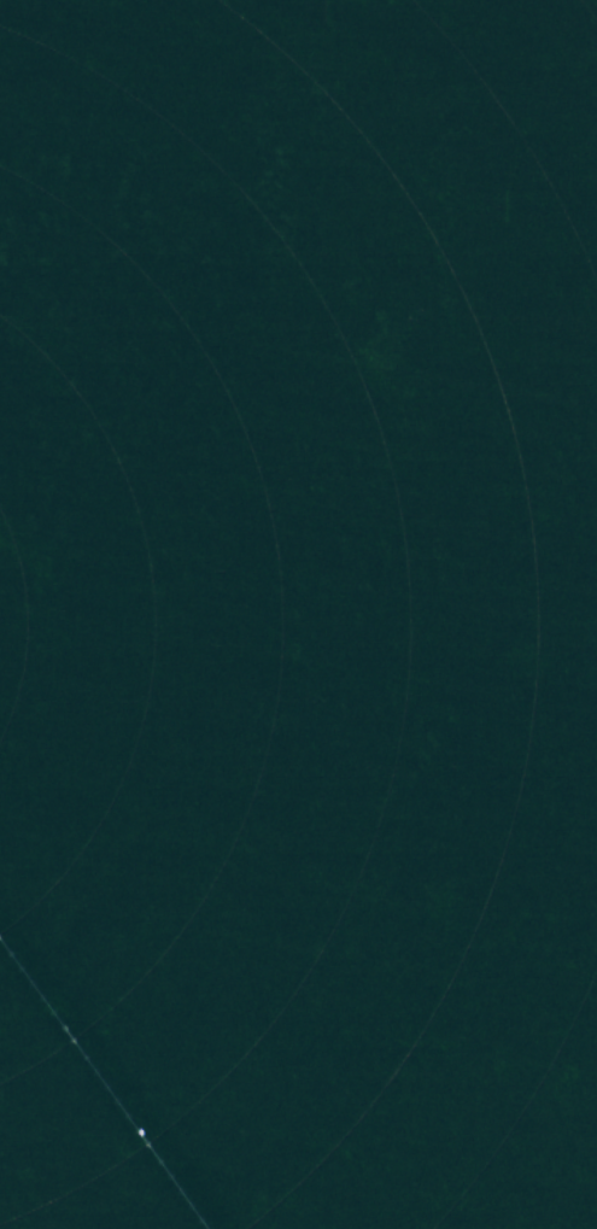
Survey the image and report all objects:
crop: (298, 614)

